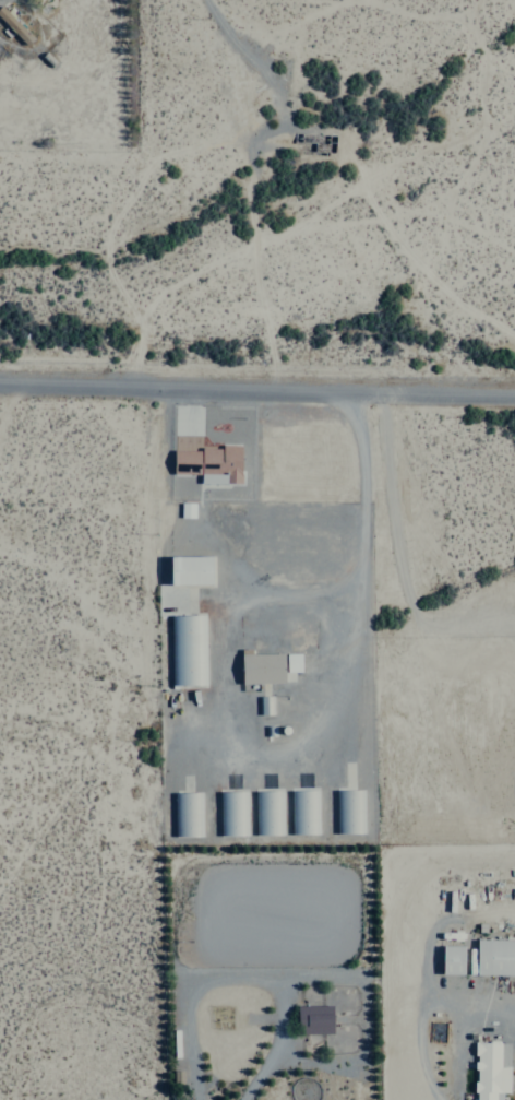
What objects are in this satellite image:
building: (14, 26)
road: (257, 388)
building: (208, 463)
building: (185, 509)
building: (190, 569)
building: (187, 649)
building: (291, 662)
building: (261, 666)
building: (263, 705)
building: (348, 811)
building: (267, 812)
building: (302, 812)
building: (231, 813)
building: (187, 814)
building: (494, 957)
building: (452, 959)
building: (313, 1019)
building: (490, 1069)

